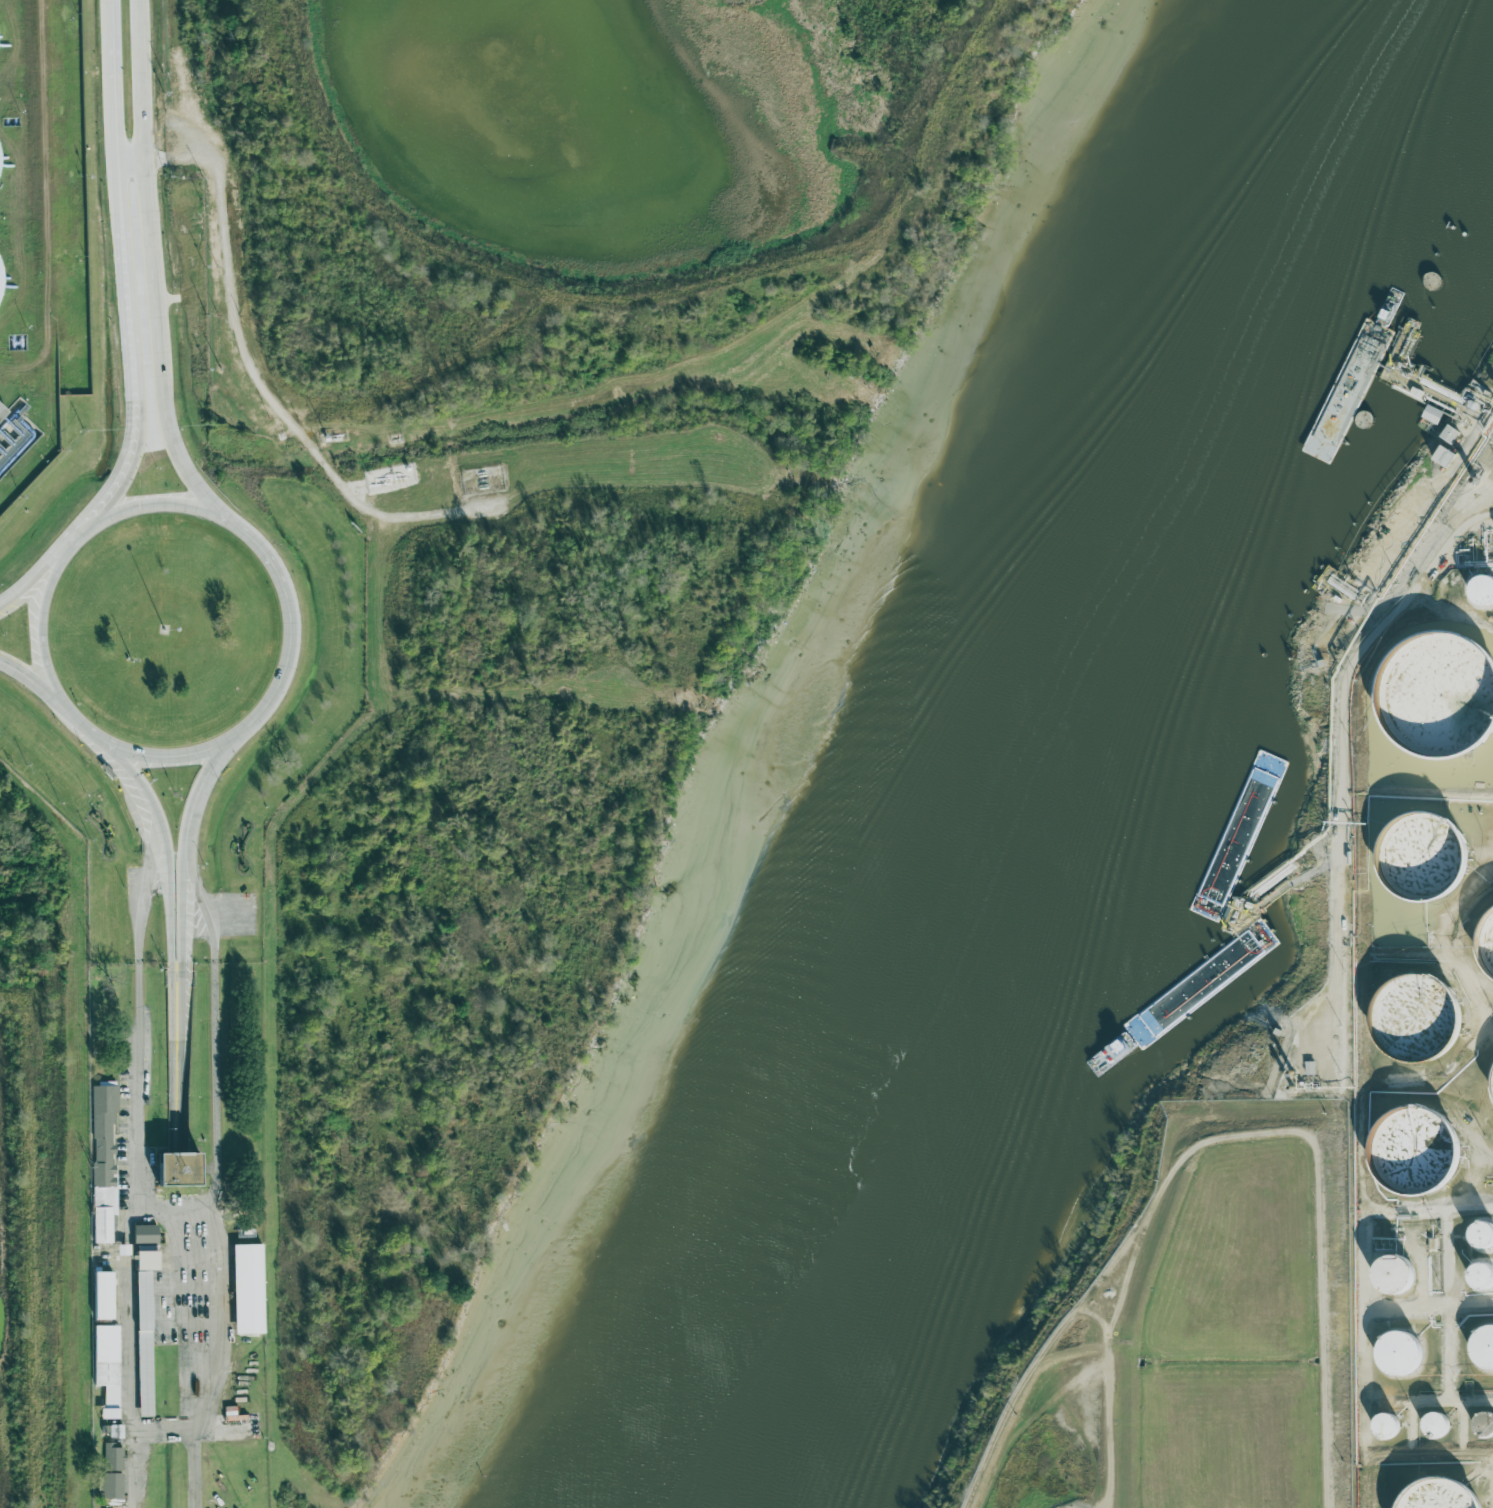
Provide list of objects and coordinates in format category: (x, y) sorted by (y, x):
road: (109, 28)
road: (178, 154)
road: (127, 158)
road: (26, 176)
road: (46, 259)
road: (152, 267)
road: (124, 299)
road: (549, 310)
pier: (1434, 348)
road: (254, 378)
building: (1431, 414)
building: (1449, 434)
building: (7, 439)
building: (1443, 456)
road: (153, 504)
road: (72, 542)
road: (255, 543)
road: (30, 580)
building: (1482, 594)
storage tank: (1482, 594)
road: (37, 629)
road: (286, 660)
road: (30, 679)
building: (1434, 699)
storage tank: (1434, 699)
road: (68, 713)
road: (1347, 713)
river: (1031, 754)
road: (158, 756)
road: (199, 787)
road: (158, 834)
building: (1419, 858)
storage tank: (1419, 858)
road: (139, 899)
road: (181, 915)
building: (1486, 947)
storage tank: (1486, 947)
road: (1336, 964)
road: (178, 982)
building: (1413, 1022)
storage tank: (1413, 1022)
road: (214, 1034)
road: (178, 1071)
building: (1491, 1087)
storage tank: (1491, 1087)
road: (1238, 1141)
building: (1413, 1155)
storage tank: (1413, 1155)
building: (102, 1160)
building: (175, 1168)
road: (201, 1214)
building: (143, 1234)
building: (1483, 1237)
storage tank: (1483, 1237)
building: (145, 1260)
building: (1393, 1277)
storage tank: (1393, 1277)
building: (1482, 1279)
storage tank: (1482, 1279)
building: (246, 1288)
building: (101, 1295)
building: (142, 1343)
building: (1484, 1350)
storage tank: (1484, 1350)
road: (135, 1354)
building: (1400, 1355)
storage tank: (1400, 1355)
building: (105, 1368)
building: (1384, 1427)
storage tank: (1384, 1427)
building: (1484, 1427)
storage tank: (1484, 1427)
building: (1437, 1428)
storage tank: (1437, 1428)
building: (114, 1431)
building: (111, 1457)
building: (111, 1485)
building: (1434, 1496)
storage tank: (1434, 1496)

